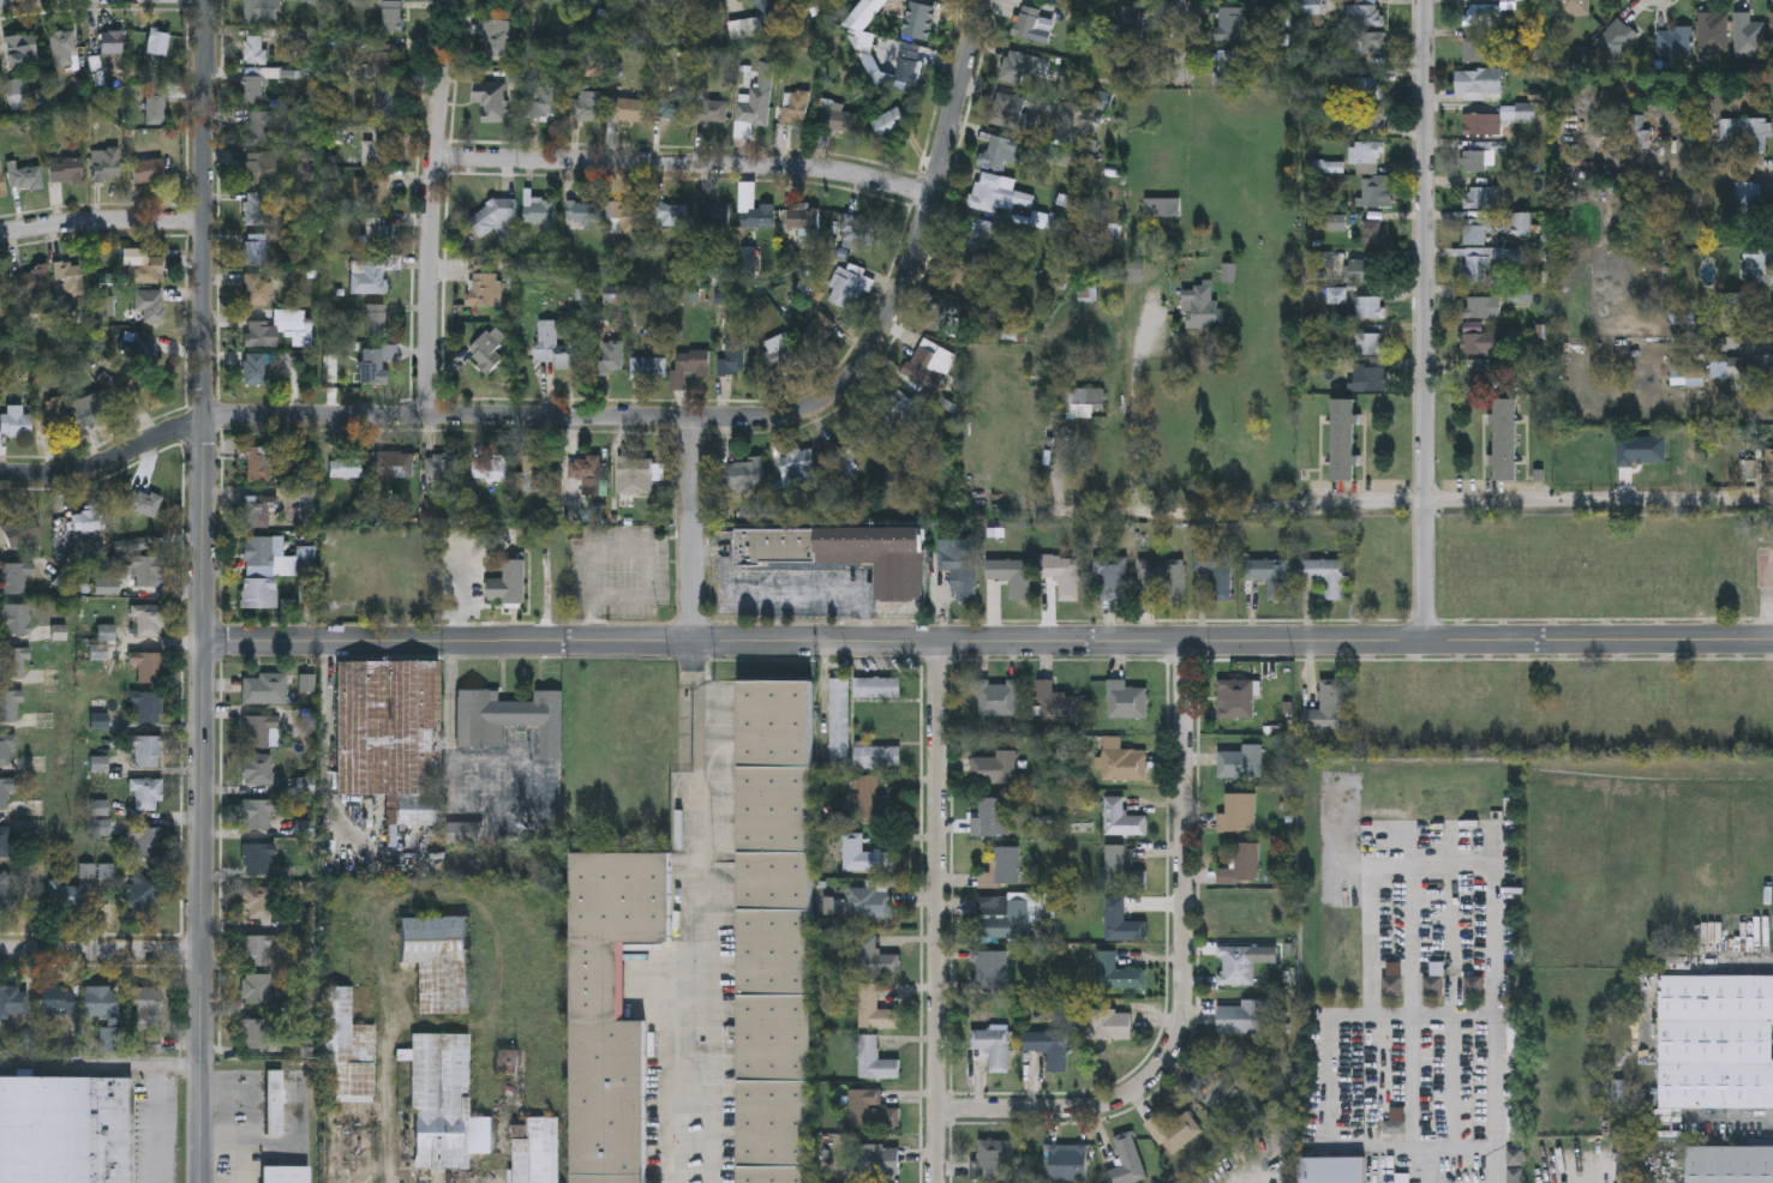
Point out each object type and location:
building: (558, 0)
building: (616, 0)
building: (707, 0)
building: (1035, 0)
building: (1229, 0)
road: (16, 1)
building: (505, 1)
building: (1574, 7)
building: (258, 12)
building: (1480, 13)
building: (1365, 14)
building: (391, 18)
building: (918, 22)
building: (1229, 25)
building: (1030, 26)
building: (1713, 31)
building: (1772, 31)
building: (1748, 36)
building: (495, 40)
building: (1616, 40)
road: (1179, 41)
building: (112, 42)
building: (1675, 42)
building: (157, 43)
building: (1371, 44)
building: (1126, 46)
building: (19, 48)
building: (62, 48)
building: (1474, 49)
building: (254, 52)
building: (385, 66)
building: (1230, 68)
building: (1017, 70)
building: (906, 72)
building: (1476, 80)
building: (1368, 90)
building: (491, 101)
building: (385, 104)
building: (155, 107)
building: (587, 110)
building: (795, 110)
building: (1006, 110)
building: (628, 112)
building: (670, 112)
building: (711, 113)
building: (751, 114)
building: (1372, 118)
building: (1480, 122)
building: (888, 125)
building: (260, 130)
building: (1750, 130)
building: (382, 148)
building: (995, 152)
building: (1367, 158)
building: (1476, 158)
building: (106, 164)
road: (683, 164)
building: (254, 168)
building: (66, 169)
building: (148, 169)
building: (25, 178)
building: (1, 184)
building: (370, 191)
building: (993, 193)
building: (1749, 193)
building: (1372, 194)
building: (1478, 194)
road: (930, 198)
building: (254, 209)
road: (430, 209)
building: (539, 211)
building: (583, 215)
building: (713, 215)
building: (496, 216)
building: (670, 216)
building: (624, 217)
building: (759, 218)
road: (102, 220)
building: (803, 221)
building: (1522, 221)
building: (1476, 229)
building: (375, 234)
building: (858, 234)
building: (974, 235)
building: (1372, 235)
building: (254, 251)
building: (1479, 259)
building: (1757, 263)
building: (146, 271)
building: (1364, 272)
building: (70, 277)
building: (36, 278)
building: (370, 278)
building: (843, 289)
building: (485, 290)
building: (258, 292)
building: (1520, 292)
building: (1483, 305)
building: (0, 306)
building: (150, 306)
building: (1368, 308)
building: (1199, 310)
building: (1682, 312)
building: (942, 318)
road: (1422, 319)
building: (375, 322)
building: (819, 334)
building: (260, 335)
building: (1481, 341)
building: (1368, 346)
building: (555, 348)
building: (487, 350)
building: (779, 354)
building: (612, 360)
building: (732, 361)
building: (928, 365)
building: (371, 366)
building: (688, 367)
building: (1745, 367)
building: (647, 368)
building: (253, 370)
building: (1693, 372)
building: (1478, 373)
building: (1368, 379)
building: (1085, 404)
building: (91, 409)
building: (899, 412)
building: (54, 414)
road: (423, 418)
building: (16, 420)
road: (1131, 434)
building: (1505, 437)
building: (1342, 440)
building: (849, 452)
building: (258, 463)
building: (1771, 464)
building: (395, 466)
building: (345, 468)
building: (444, 470)
building: (490, 470)
building: (798, 472)
building: (535, 475)
building: (586, 475)
building: (637, 475)
building: (744, 476)
building: (301, 497)
road: (1416, 499)
building: (143, 500)
building: (258, 509)
building: (83, 520)
building: (20, 530)
building: (138, 542)
building: (843, 551)
building: (959, 566)
building: (146, 570)
building: (283, 570)
building: (1216, 571)
building: (14, 575)
building: (1011, 576)
building: (1062, 576)
building: (1269, 576)
building: (1325, 576)
building: (1163, 577)
building: (1112, 580)
building: (507, 584)
road: (693, 590)
road: (205, 591)
road: (813, 595)
building: (14, 618)
building: (149, 619)
road: (1233, 639)
road: (449, 641)
building: (12, 660)
building: (149, 666)
building: (877, 686)
building: (263, 687)
building: (998, 698)
building: (1236, 699)
building: (1126, 701)
building: (1058, 704)
building: (11, 705)
building: (148, 707)
building: (1325, 708)
building: (509, 717)
building: (839, 721)
building: (258, 728)
building: (391, 737)
road: (330, 747)
building: (6, 749)
building: (146, 750)
building: (877, 756)
building: (1122, 762)
building: (1241, 763)
building: (258, 768)
building: (994, 769)
building: (5, 788)
building: (148, 793)
building: (874, 799)
building: (258, 812)
building: (1238, 813)
building: (992, 817)
building: (1122, 818)
building: (5, 840)
building: (149, 841)
building: (864, 854)
building: (258, 858)
building: (1240, 865)
road: (1490, 865)
building: (1002, 869)
building: (1121, 871)
building: (6, 891)
building: (139, 893)
building: (65, 894)
building: (258, 901)
building: (870, 901)
road: (938, 911)
building: (1004, 918)
building: (1121, 921)
building: (774, 932)
building: (258, 948)
road: (101, 949)
building: (876, 955)
building: (1242, 962)
building: (437, 963)
building: (990, 969)
road: (691, 973)
building: (1118, 973)
road: (1182, 974)
building: (1392, 979)
building: (1432, 985)
building: (257, 986)
building: (1472, 986)
building: (101, 999)
building: (14, 1001)
building: (59, 1001)
building: (146, 1002)
road: (1451, 1004)
road: (1410, 1005)
building: (875, 1008)
building: (611, 1010)
building: (1240, 1017)
building: (1109, 1025)
building: (258, 1032)
building: (1514, 1037)
building: (1715, 1041)
building: (994, 1047)
building: (1048, 1047)
building: (347, 1050)
building: (875, 1058)
road: (101, 1069)
building: (1212, 1086)
road: (1495, 1099)
building: (275, 1104)
building: (444, 1106)
building: (870, 1109)
road: (158, 1125)
road: (1328, 1128)
building: (66, 1130)
building: (1174, 1131)
road: (1461, 1147)
building: (537, 1153)
building: (879, 1159)
building: (992, 1161)
building: (1068, 1163)
building: (1127, 1163)
building: (1729, 1164)
building: (1514, 1165)
building: (1332, 1170)
building: (276, 1171)

